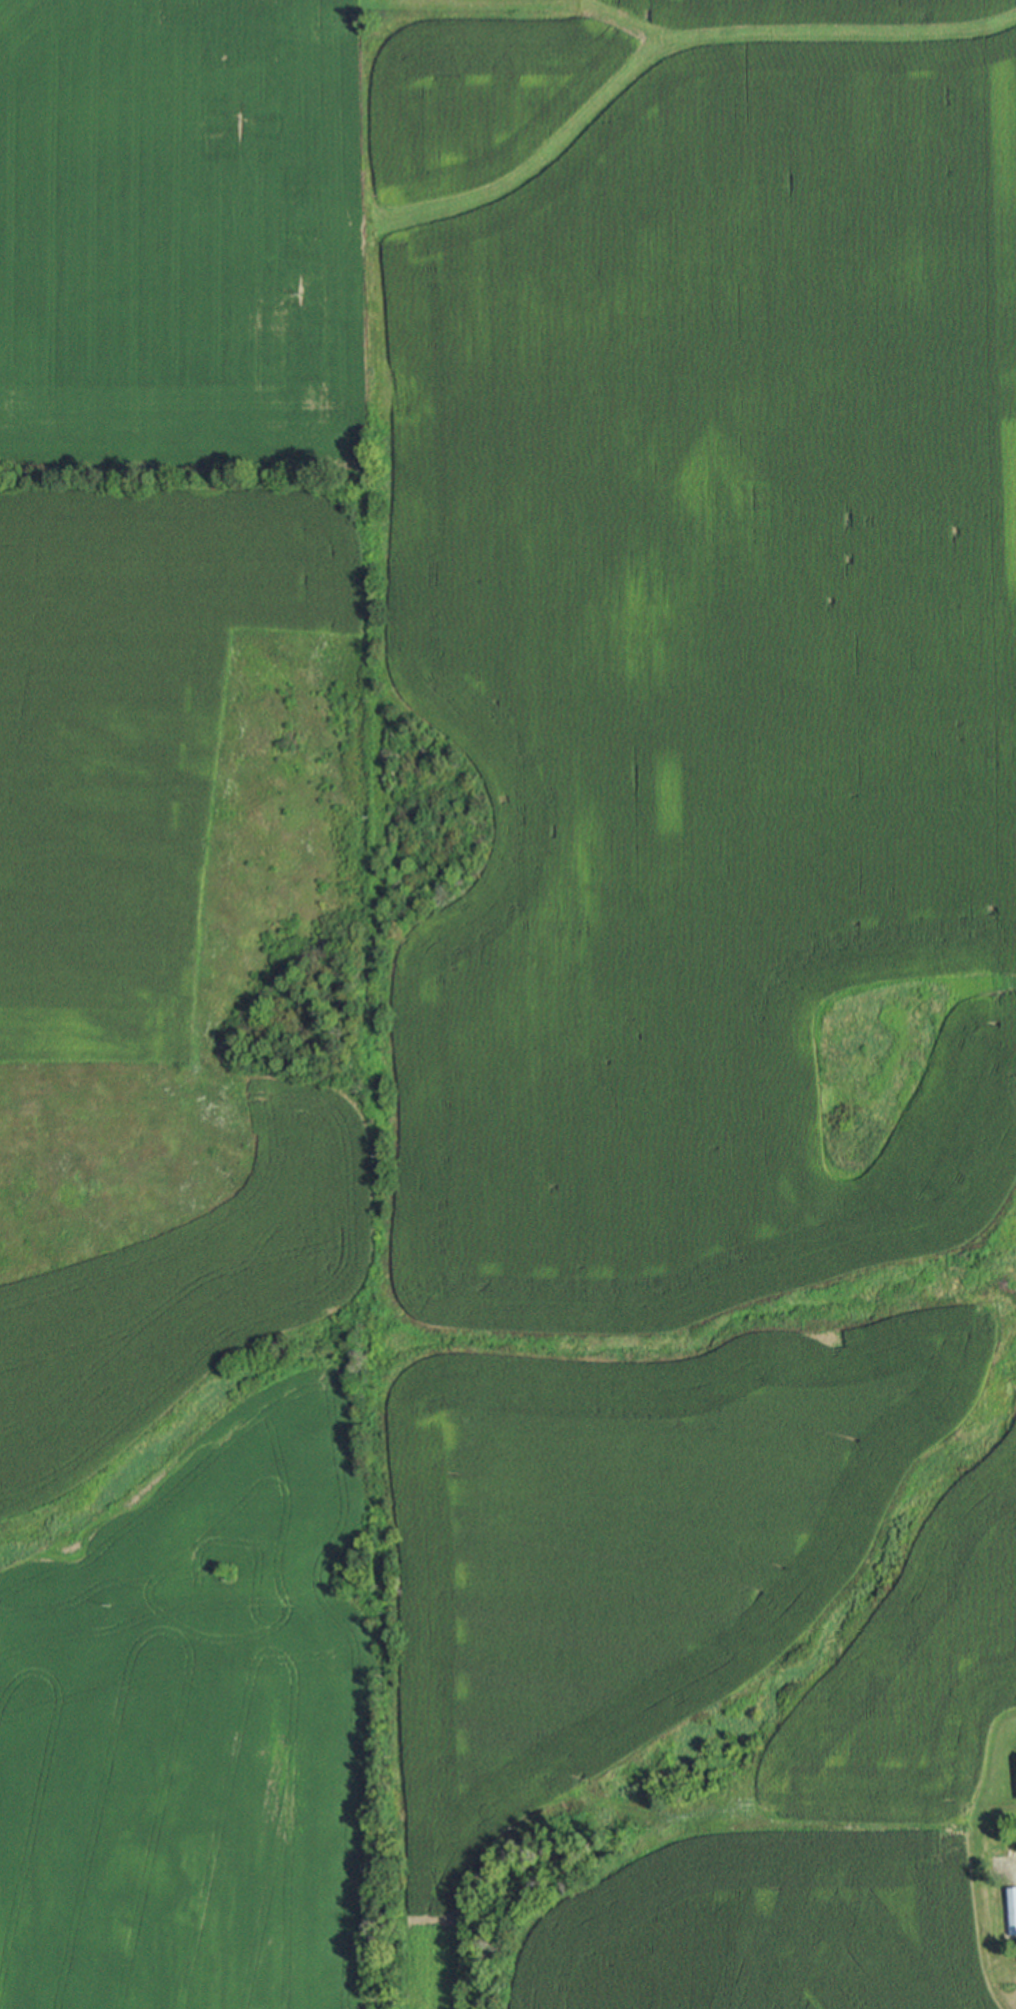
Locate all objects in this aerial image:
road: (1008, 1811)
building: (1011, 1910)

